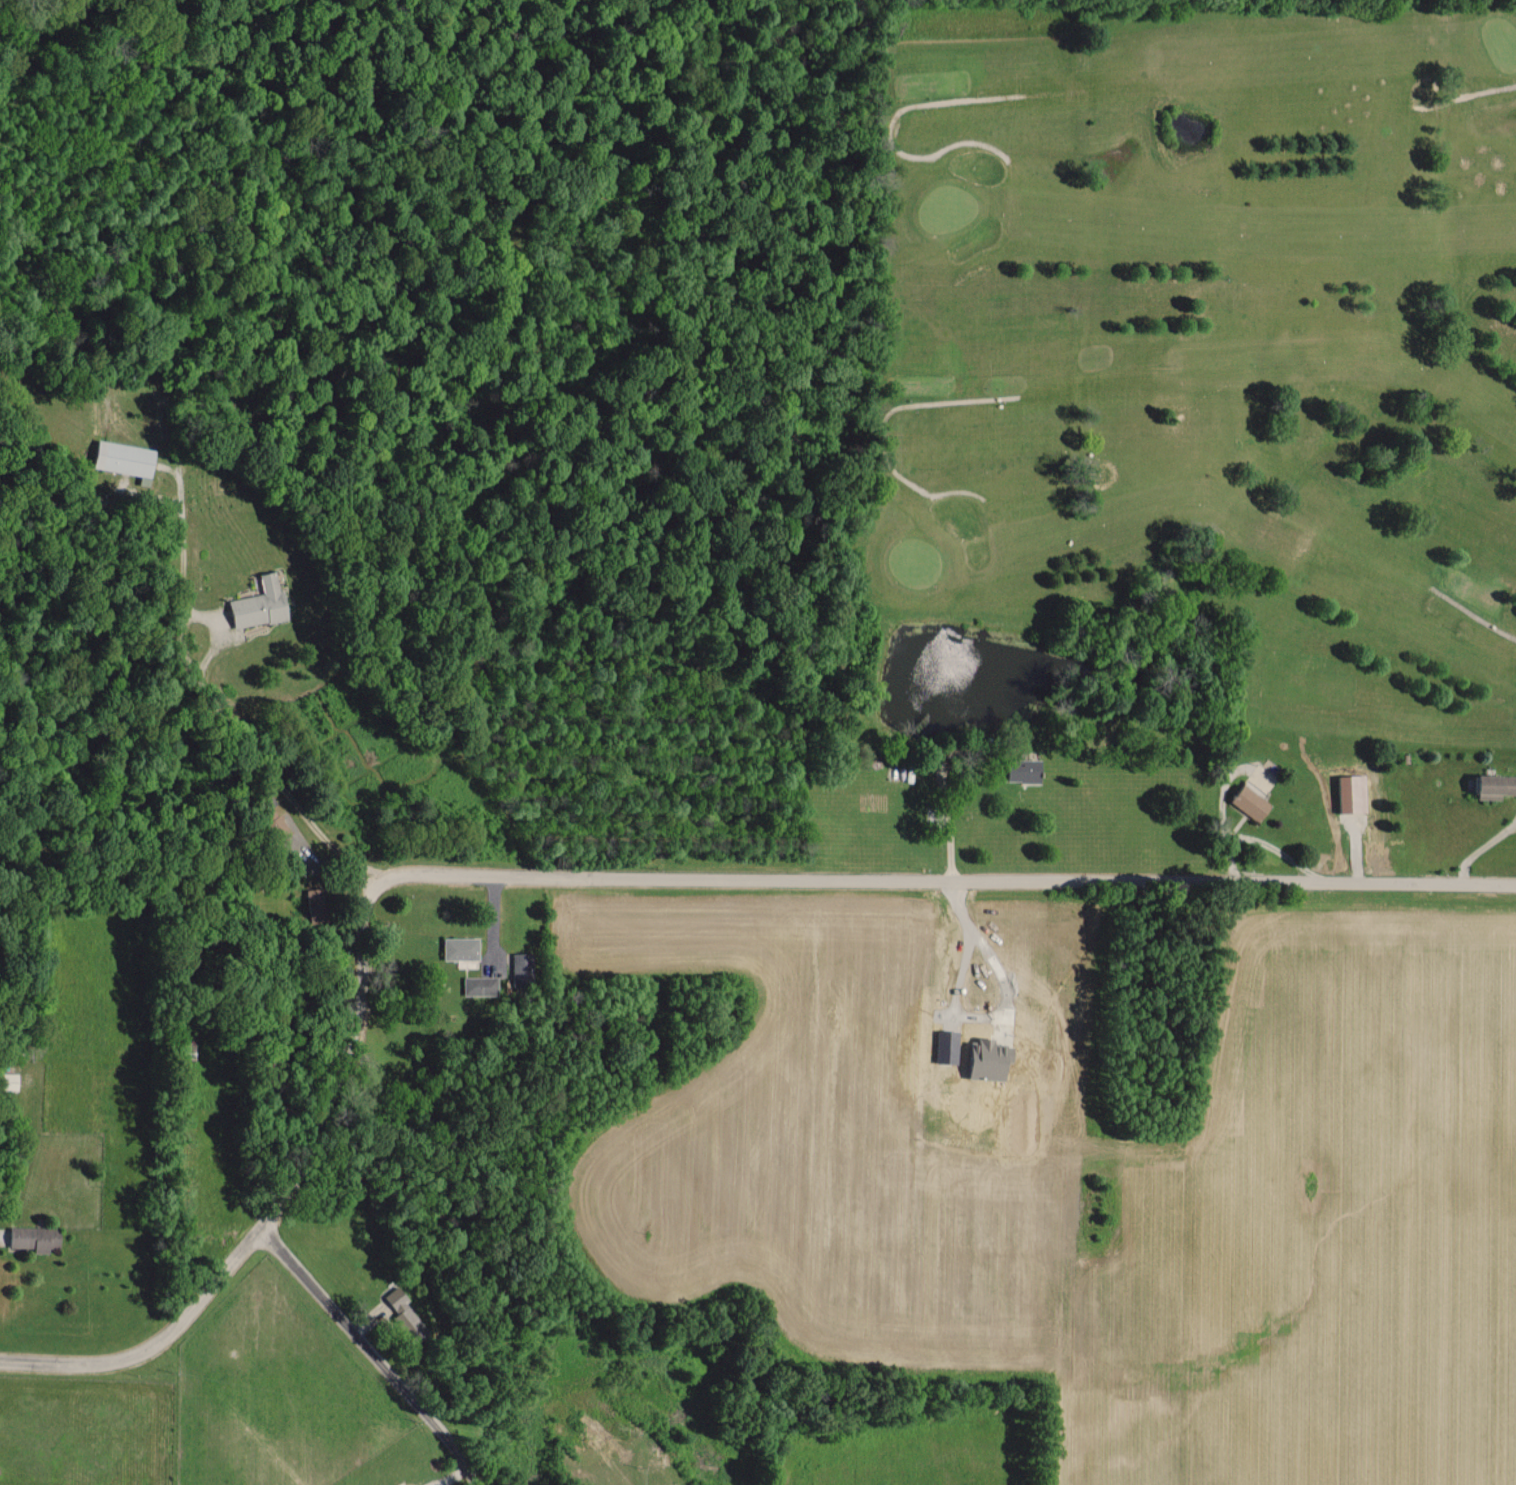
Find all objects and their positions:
park: (1184, 414)
building: (128, 459)
road: (203, 600)
building: (263, 602)
building: (1029, 770)
building: (1489, 784)
building: (1346, 792)
building: (1244, 800)
road: (613, 881)
building: (463, 948)
building: (524, 970)
building: (482, 985)
building: (38, 1237)
building: (396, 1306)
road: (371, 1357)

